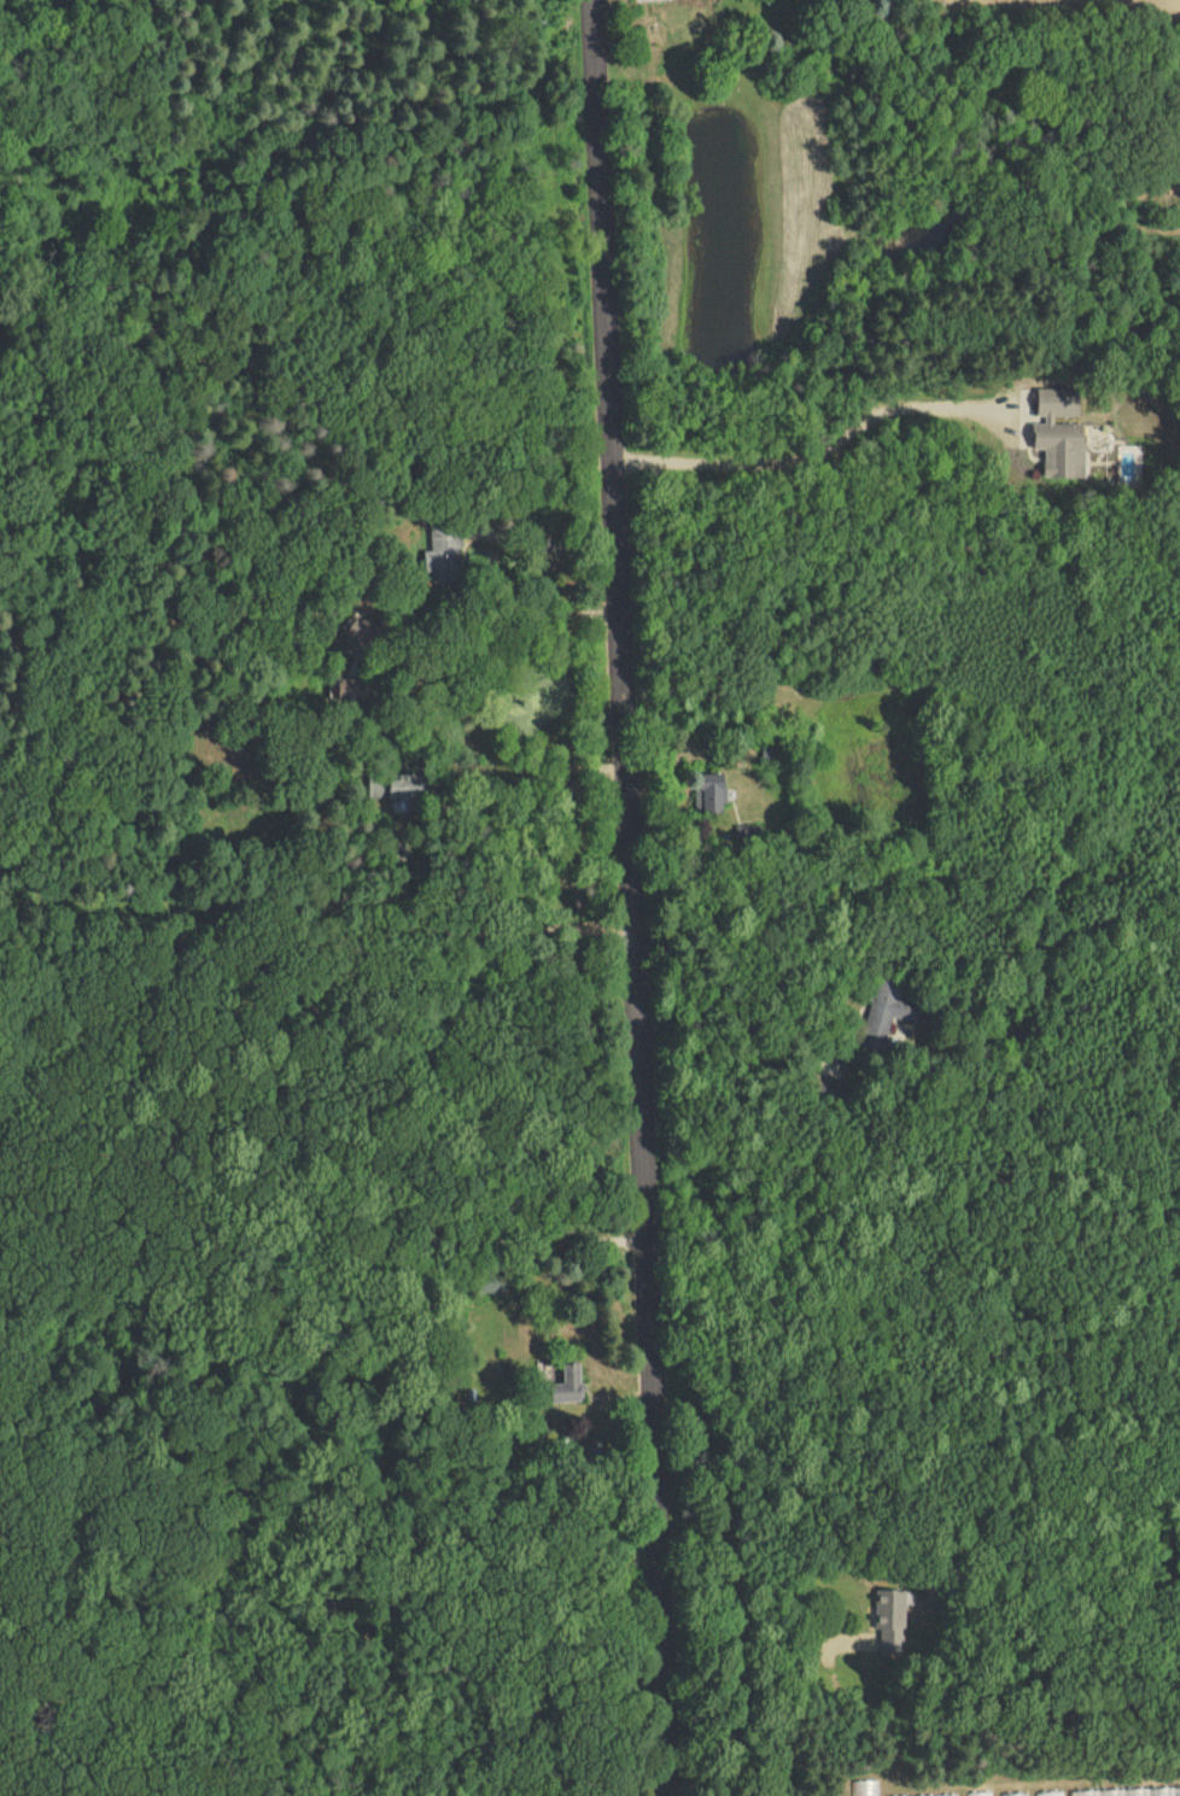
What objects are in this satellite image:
building: (1056, 432)
road: (810, 455)
building: (442, 556)
road: (545, 560)
road: (282, 597)
road: (493, 648)
building: (393, 788)
building: (708, 791)
road: (636, 897)
road: (319, 940)
building: (883, 1017)
road: (323, 1200)
building: (565, 1383)
road: (770, 1591)
building: (892, 1619)
road: (19, 1732)
building: (1131, 1792)
building: (1048, 1794)
building: (947, 1795)

